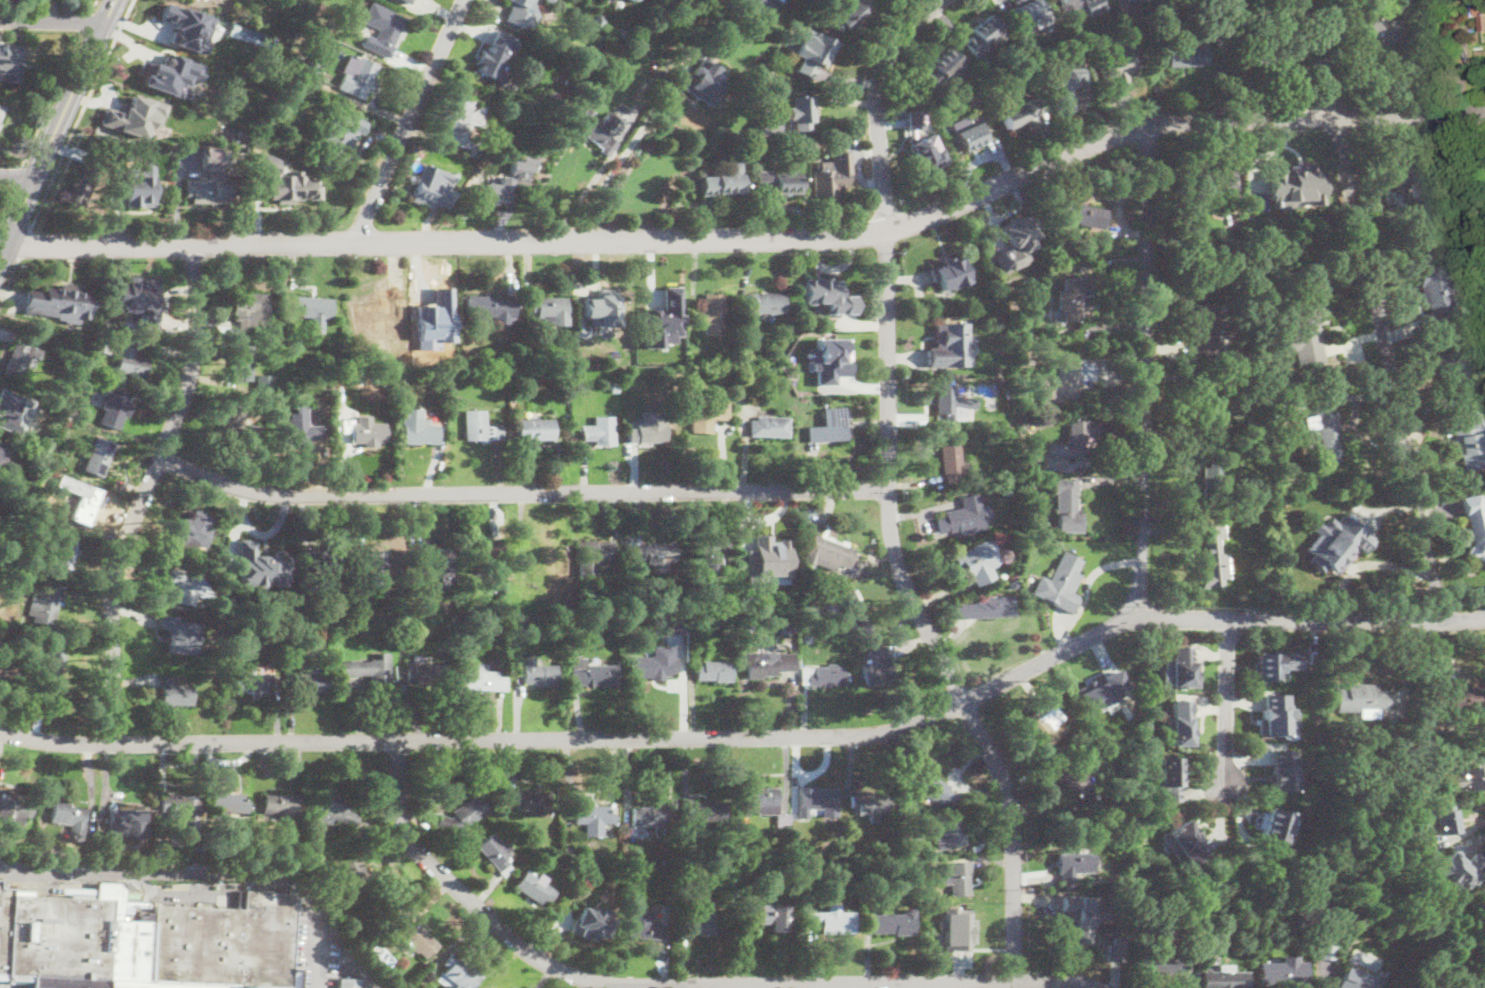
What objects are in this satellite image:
building: (631, 0)
building: (407, 1)
building: (548, 1)
building: (1138, 1)
building: (292, 3)
building: (757, 4)
road: (93, 5)
building: (1069, 6)
building: (1027, 12)
building: (1479, 12)
building: (522, 13)
building: (849, 14)
building: (597, 19)
road: (51, 21)
road: (85, 22)
building: (1210, 22)
building: (384, 24)
building: (188, 27)
building: (717, 30)
building: (983, 31)
building: (619, 32)
building: (1378, 33)
building: (1264, 47)
building: (1188, 53)
building: (812, 54)
building: (621, 58)
building: (11, 63)
building: (492, 63)
building: (985, 63)
building: (313, 67)
building: (1123, 70)
building: (939, 72)
building: (171, 74)
building: (614, 77)
building: (360, 80)
building: (1063, 88)
building: (705, 89)
road: (51, 98)
building: (624, 109)
building: (2, 110)
road: (80, 113)
building: (799, 113)
building: (1018, 114)
building: (134, 115)
building: (913, 120)
road: (409, 122)
building: (0, 124)
building: (464, 127)
building: (769, 127)
road: (56, 129)
building: (261, 129)
building: (598, 131)
building: (673, 131)
building: (242, 134)
building: (338, 136)
building: (970, 137)
building: (261, 140)
building: (758, 150)
building: (540, 153)
building: (927, 156)
road: (622, 157)
building: (212, 158)
building: (521, 168)
road: (18, 175)
road: (18, 175)
road: (596, 176)
building: (1421, 178)
building: (82, 181)
building: (288, 182)
building: (830, 182)
building: (139, 184)
building: (779, 184)
building: (1198, 184)
building: (433, 185)
building: (1292, 185)
building: (720, 186)
building: (208, 192)
building: (495, 194)
road: (6, 201)
building: (1085, 215)
road: (16, 220)
road: (756, 242)
road: (25, 243)
building: (1012, 250)
road: (9, 254)
building: (1083, 268)
building: (951, 273)
road: (9, 281)
building: (1434, 293)
building: (830, 295)
building: (1072, 298)
building: (139, 299)
building: (766, 303)
building: (54, 305)
building: (491, 308)
building: (550, 309)
building: (606, 309)
road: (1376, 312)
building: (253, 313)
building: (317, 313)
building: (378, 313)
building: (712, 315)
building: (663, 320)
building: (744, 320)
building: (103, 324)
building: (1028, 329)
building: (1206, 330)
building: (279, 331)
building: (758, 335)
building: (1305, 336)
building: (1029, 338)
building: (949, 340)
building: (378, 344)
building: (102, 346)
building: (560, 354)
building: (825, 358)
building: (1030, 360)
building: (131, 361)
building: (242, 362)
building: (19, 363)
building: (1451, 369)
road: (1146, 373)
building: (326, 374)
building: (748, 374)
building: (359, 378)
building: (512, 378)
building: (68, 381)
building: (1065, 382)
building: (264, 383)
building: (809, 384)
building: (615, 387)
building: (953, 403)
building: (1214, 403)
building: (1273, 406)
building: (13, 410)
building: (73, 411)
building: (115, 411)
building: (707, 415)
building: (234, 419)
building: (67, 420)
building: (480, 422)
building: (833, 425)
building: (649, 427)
building: (537, 428)
building: (774, 428)
building: (254, 429)
building: (1326, 429)
building: (418, 430)
building: (601, 431)
building: (302, 432)
building: (369, 435)
building: (1273, 438)
building: (1470, 440)
building: (1, 445)
building: (1069, 446)
road: (345, 450)
building: (98, 457)
building: (1265, 461)
building: (951, 463)
building: (1024, 469)
building: (63, 479)
building: (1215, 482)
road: (143, 491)
road: (519, 491)
road: (888, 493)
building: (1282, 499)
building: (1067, 504)
building: (85, 507)
building: (962, 515)
road: (758, 520)
building: (1474, 525)
building: (70, 534)
road: (259, 534)
building: (194, 538)
building: (1335, 543)
building: (250, 550)
building: (597, 551)
building: (662, 552)
building: (716, 553)
building: (487, 554)
building: (830, 554)
building: (61, 557)
building: (1214, 557)
building: (768, 559)
building: (326, 560)
building: (433, 560)
building: (977, 561)
building: (375, 564)
road: (1363, 564)
building: (1003, 573)
building: (1061, 583)
building: (1007, 584)
building: (184, 588)
building: (44, 605)
building: (424, 607)
building: (986, 607)
building: (449, 612)
building: (855, 619)
building: (674, 625)
building: (279, 628)
building: (789, 629)
building: (182, 637)
building: (808, 638)
building: (300, 658)
building: (656, 663)
building: (1275, 663)
building: (875, 666)
building: (763, 669)
building: (1185, 669)
building: (7, 671)
building: (50, 671)
building: (371, 671)
building: (714, 671)
building: (538, 672)
building: (592, 673)
building: (426, 674)
building: (829, 675)
building: (250, 680)
building: (312, 681)
building: (482, 681)
building: (176, 692)
building: (1101, 697)
building: (1455, 699)
building: (1360, 700)
road: (1225, 703)
building: (1275, 716)
building: (1044, 723)
building: (1180, 723)
road: (754, 736)
building: (1285, 770)
building: (1170, 778)
building: (1471, 778)
building: (1077, 788)
building: (932, 790)
building: (817, 800)
building: (533, 803)
building: (281, 804)
building: (767, 804)
building: (13, 805)
building: (330, 805)
building: (870, 805)
building: (228, 806)
building: (179, 811)
building: (470, 811)
building: (701, 813)
building: (626, 814)
building: (647, 817)
building: (68, 818)
building: (594, 818)
building: (1443, 819)
building: (122, 822)
building: (1274, 824)
building: (952, 828)
building: (1185, 843)
building: (553, 845)
building: (495, 854)
building: (58, 855)
building: (666, 860)
building: (1075, 865)
building: (1459, 869)
road: (206, 872)
building: (637, 873)
building: (358, 876)
building: (957, 878)
building: (534, 886)
building: (1422, 890)
building: (1107, 900)
building: (770, 917)
building: (701, 920)
building: (832, 920)
building: (1088, 920)
building: (590, 922)
building: (642, 923)
building: (895, 923)
building: (951, 926)
park: (1457, 934)
building: (418, 939)
building: (145, 943)
parking lot: (315, 948)
building: (1114, 949)
building: (1325, 951)
building: (1161, 961)
building: (435, 967)
building: (1282, 972)
building: (460, 973)
building: (1225, 980)
building: (1356, 980)
building: (1394, 981)
building: (348, 982)
road: (671, 982)
parking lot: (11, 985)
building: (490, 987)

